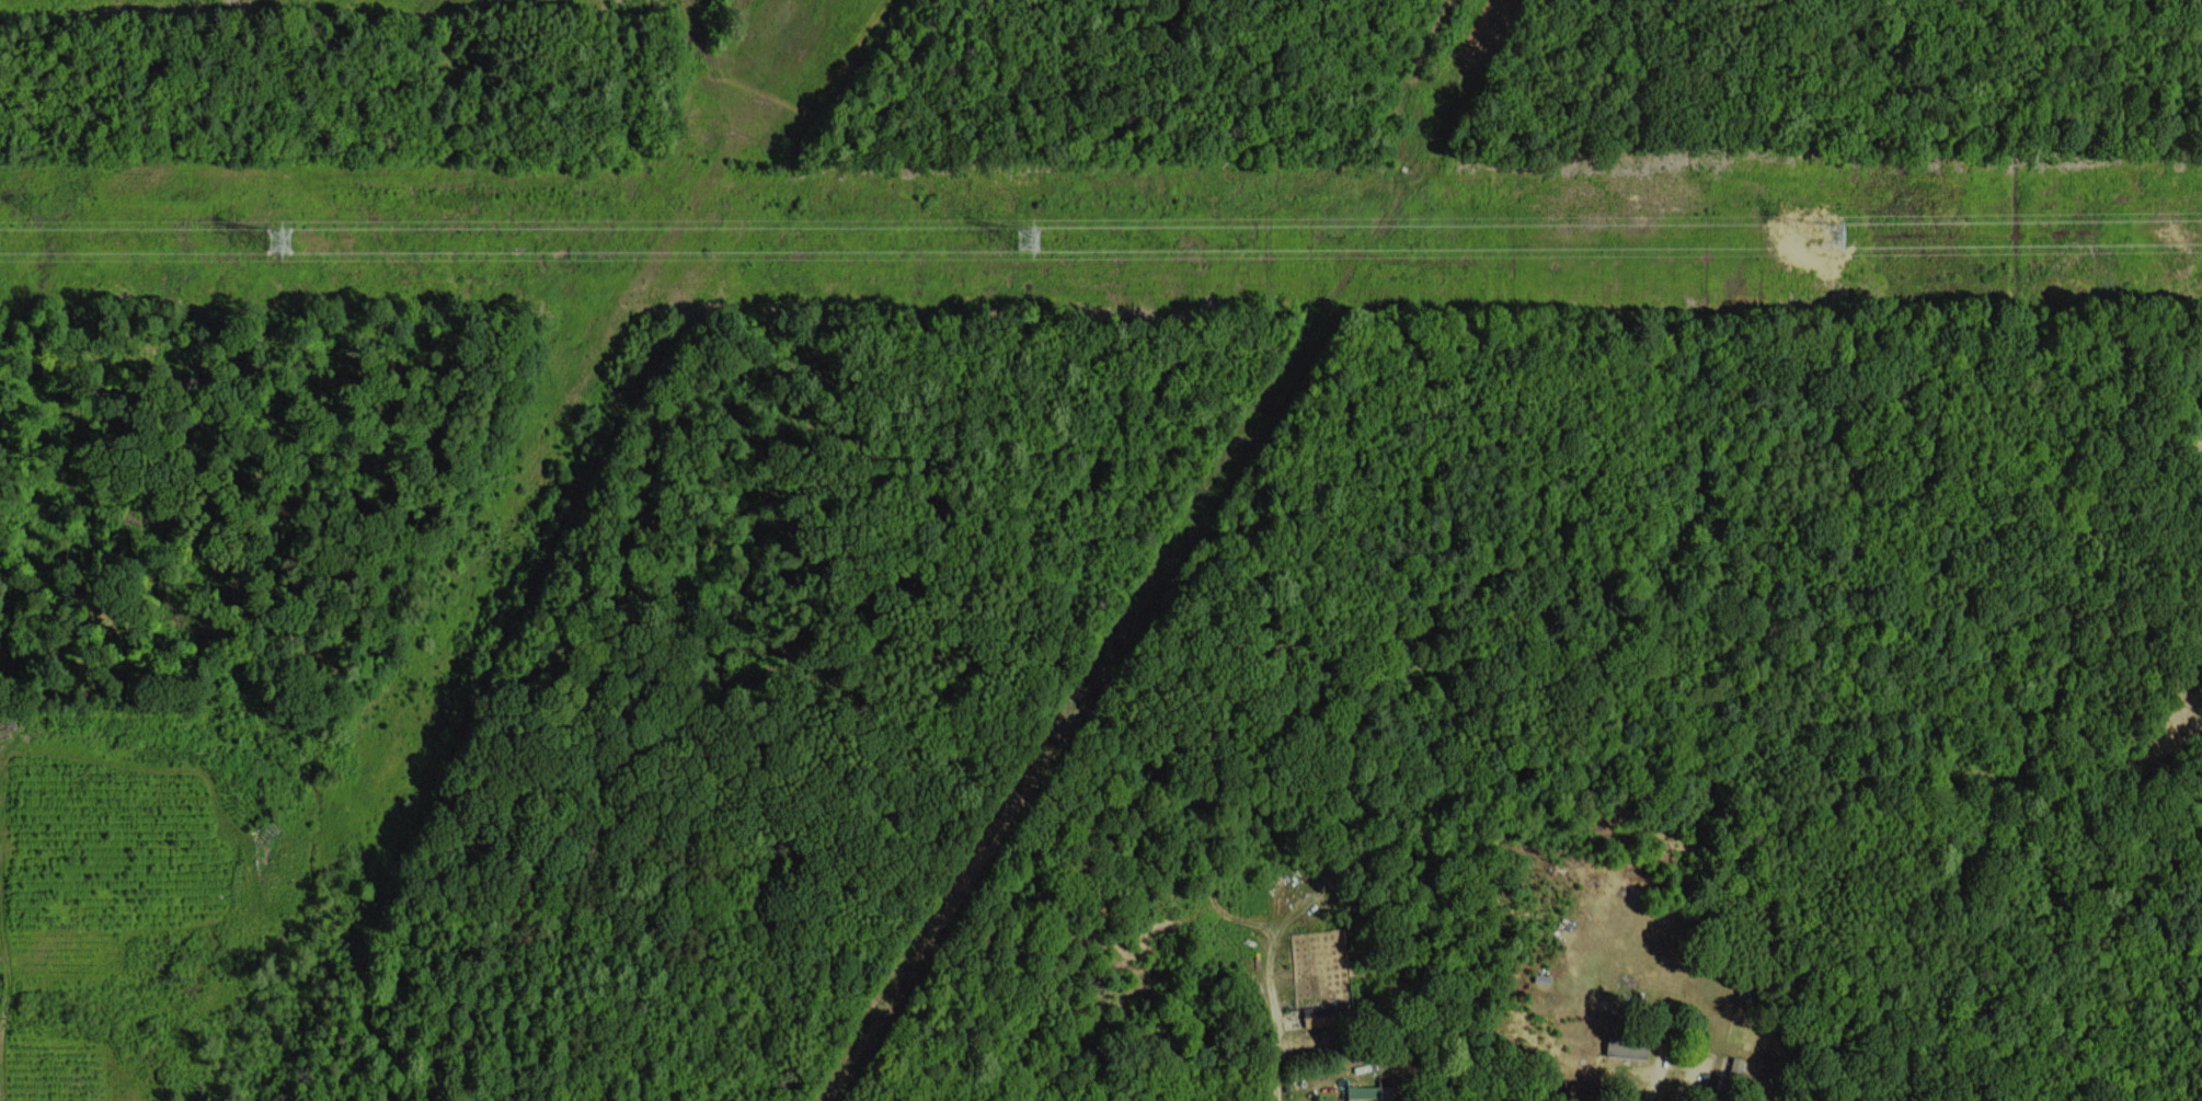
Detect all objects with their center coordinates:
power tower: (1833, 236)
power tower: (1030, 237)
power tower: (280, 240)
building: (1625, 1047)
road: (1276, 1059)
building: (1363, 1093)

